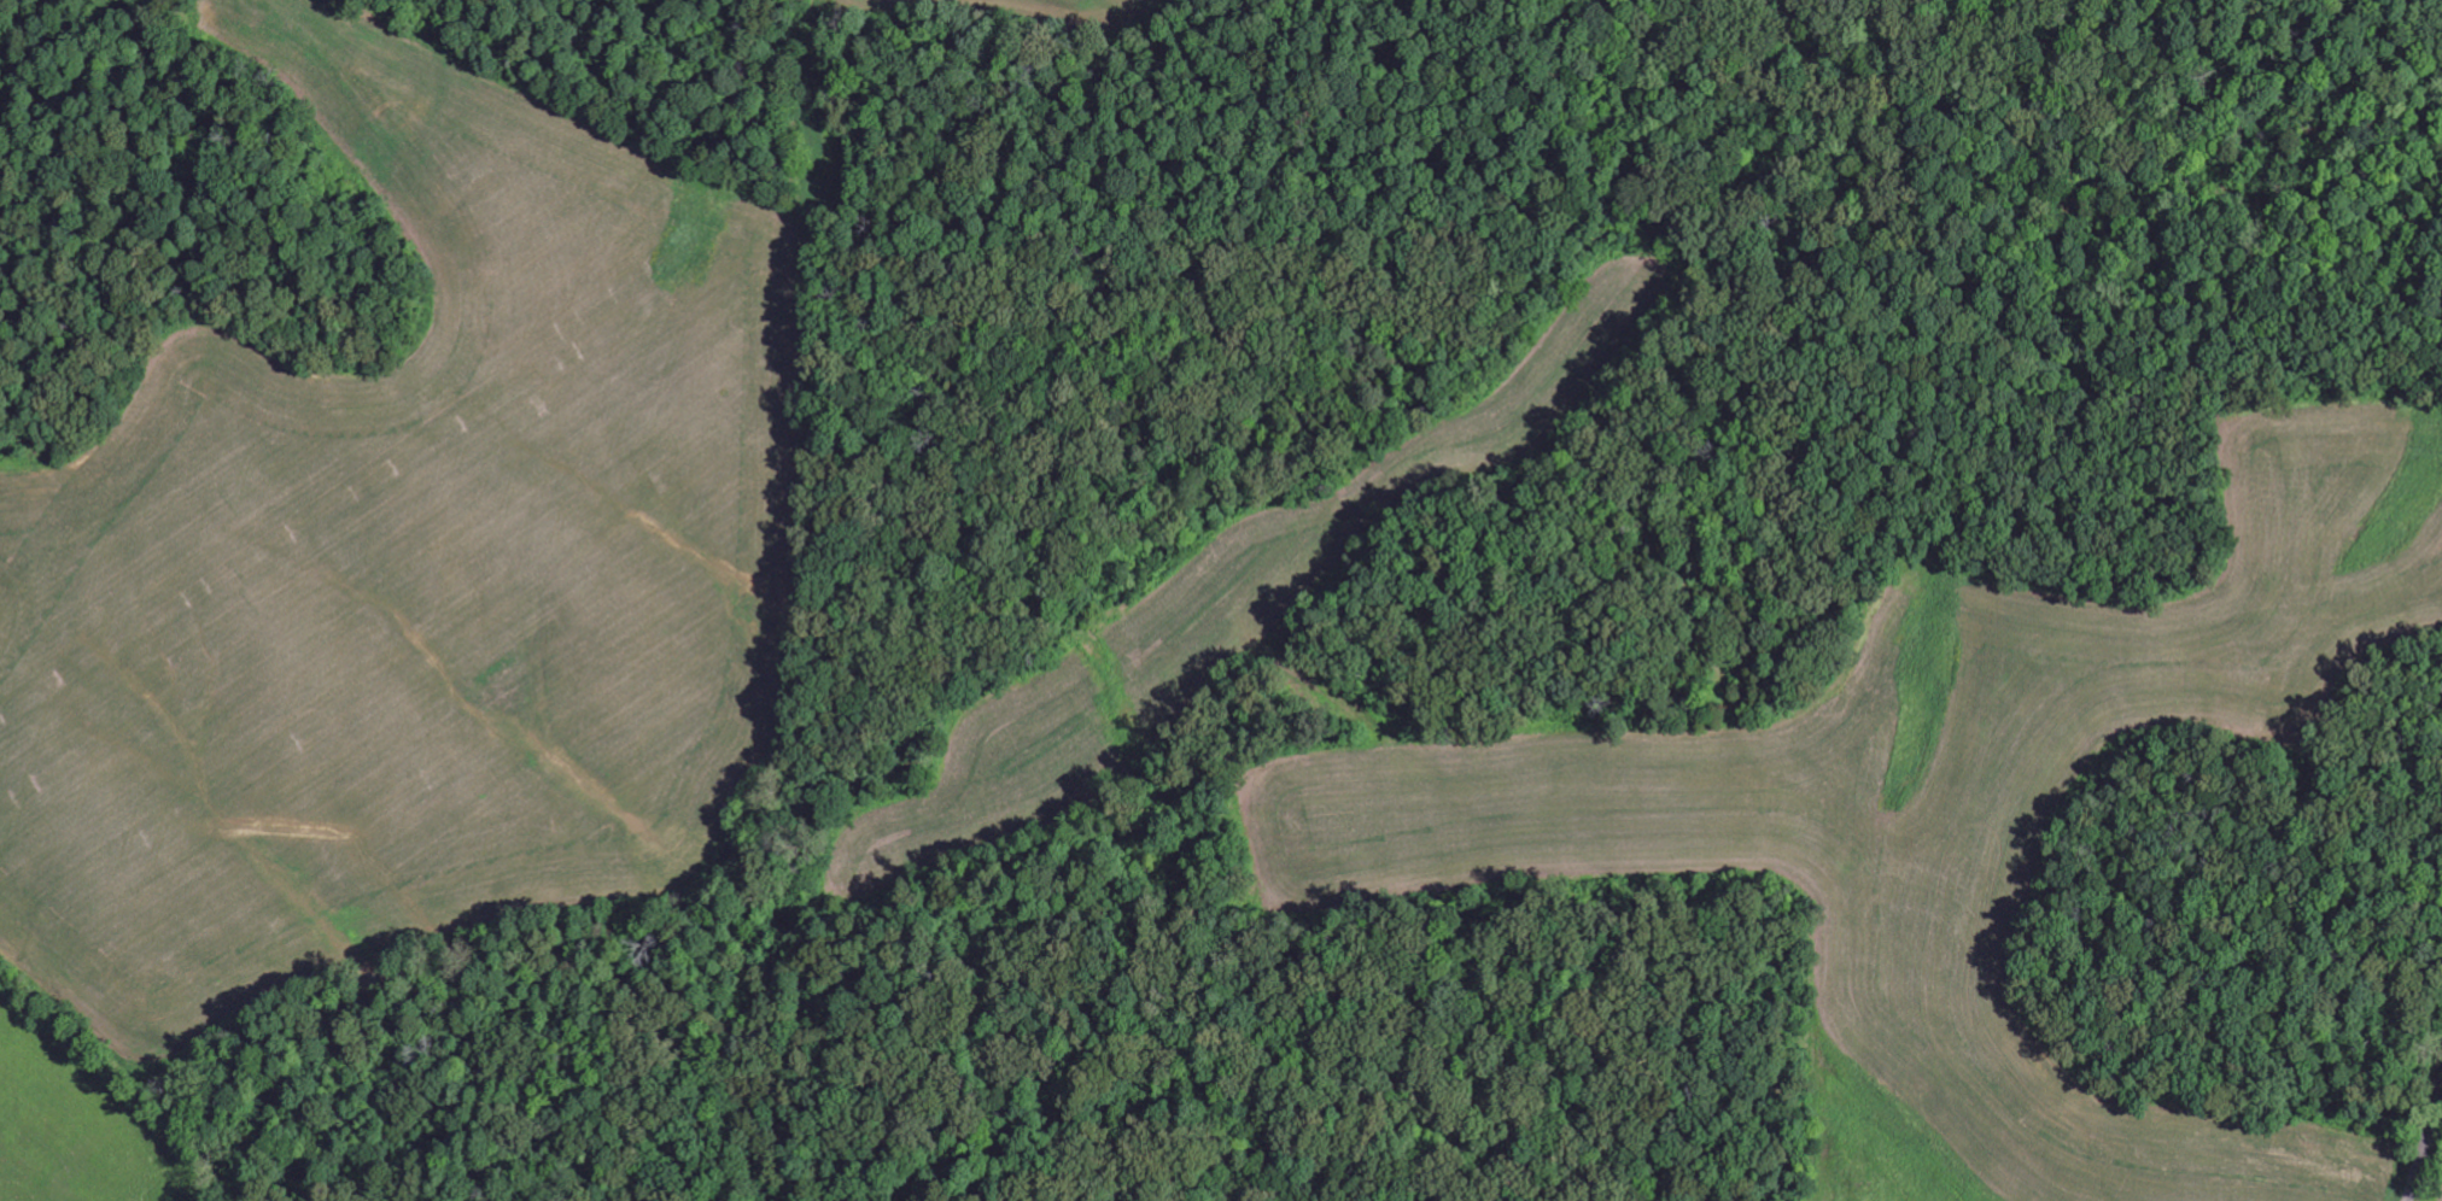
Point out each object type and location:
road: (2426, 1148)

